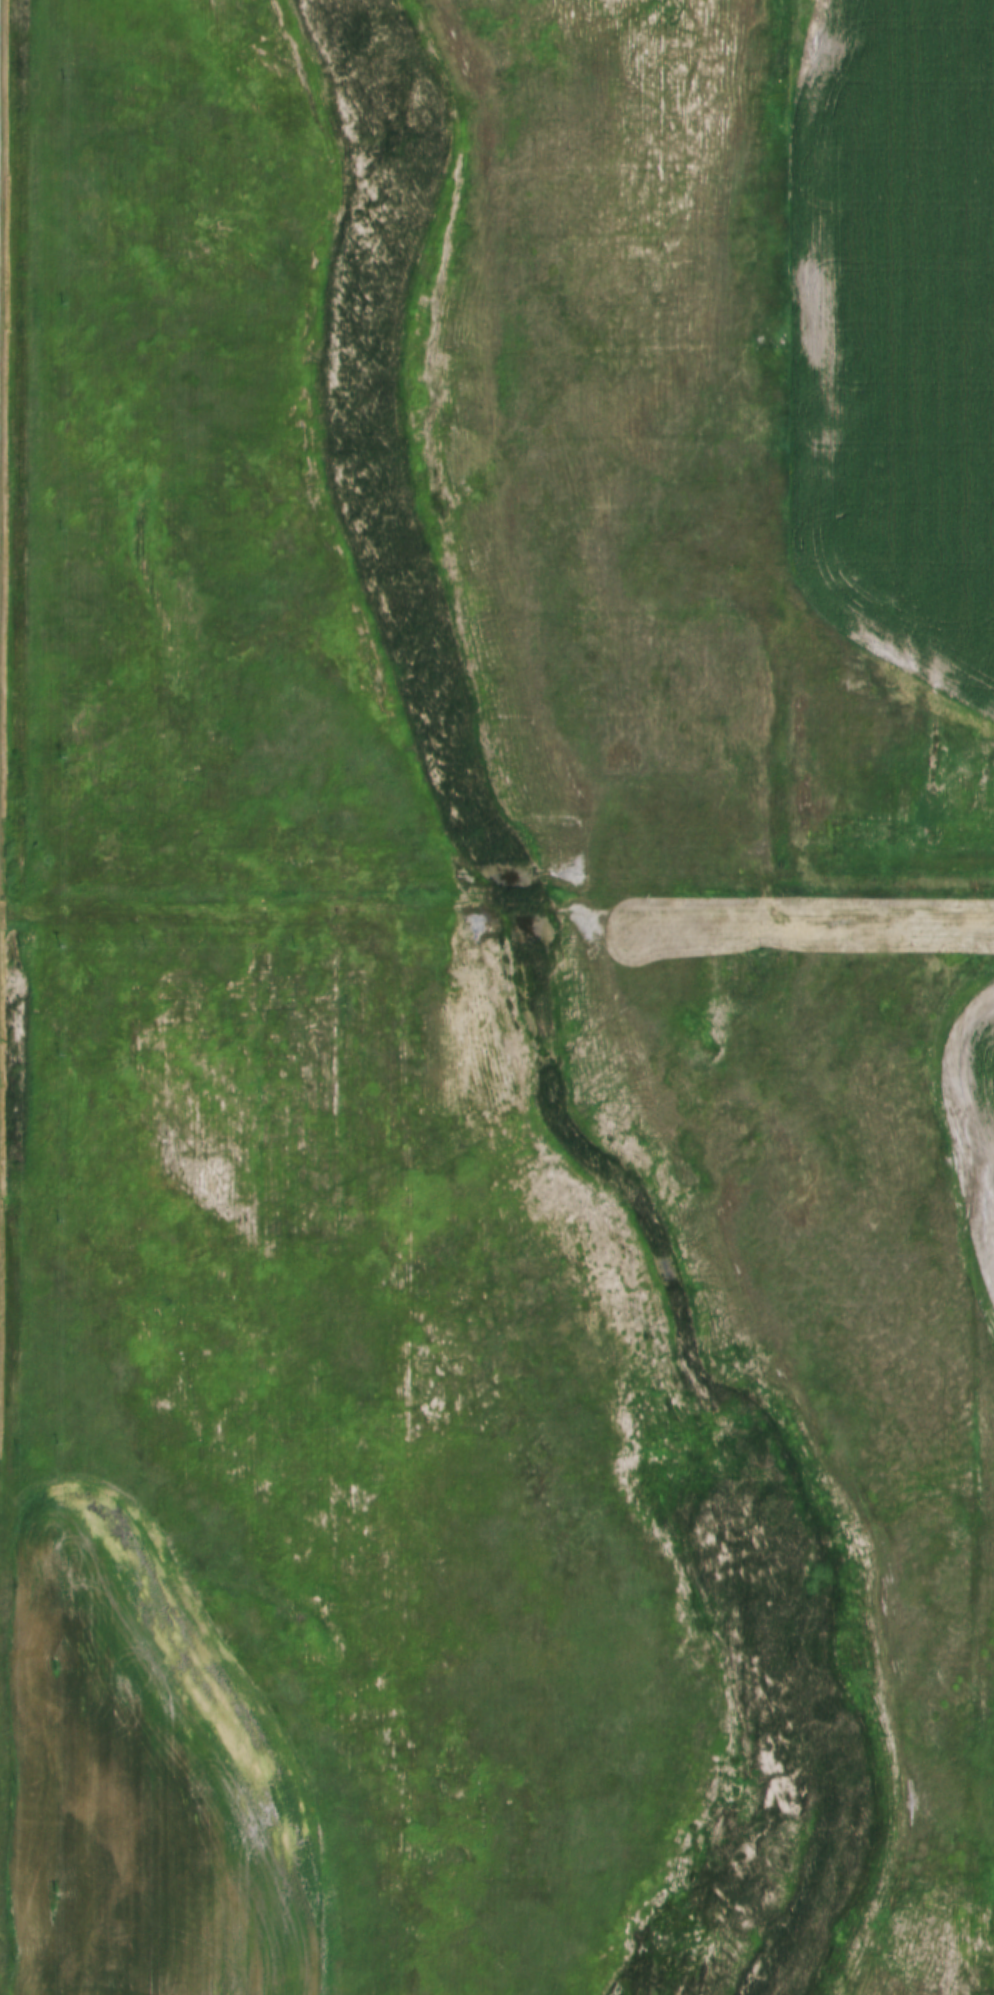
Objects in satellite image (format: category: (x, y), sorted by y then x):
road: (911, 880)

